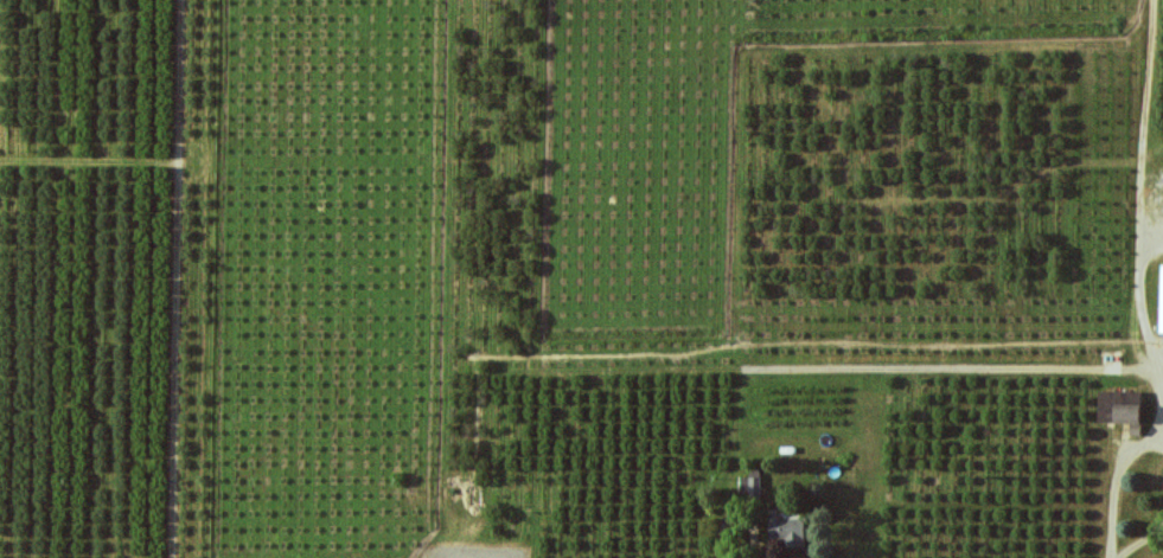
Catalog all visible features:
road: (1149, 307)
building: (1162, 318)
building: (1123, 409)
building: (750, 487)
road: (1123, 489)
building: (790, 531)

